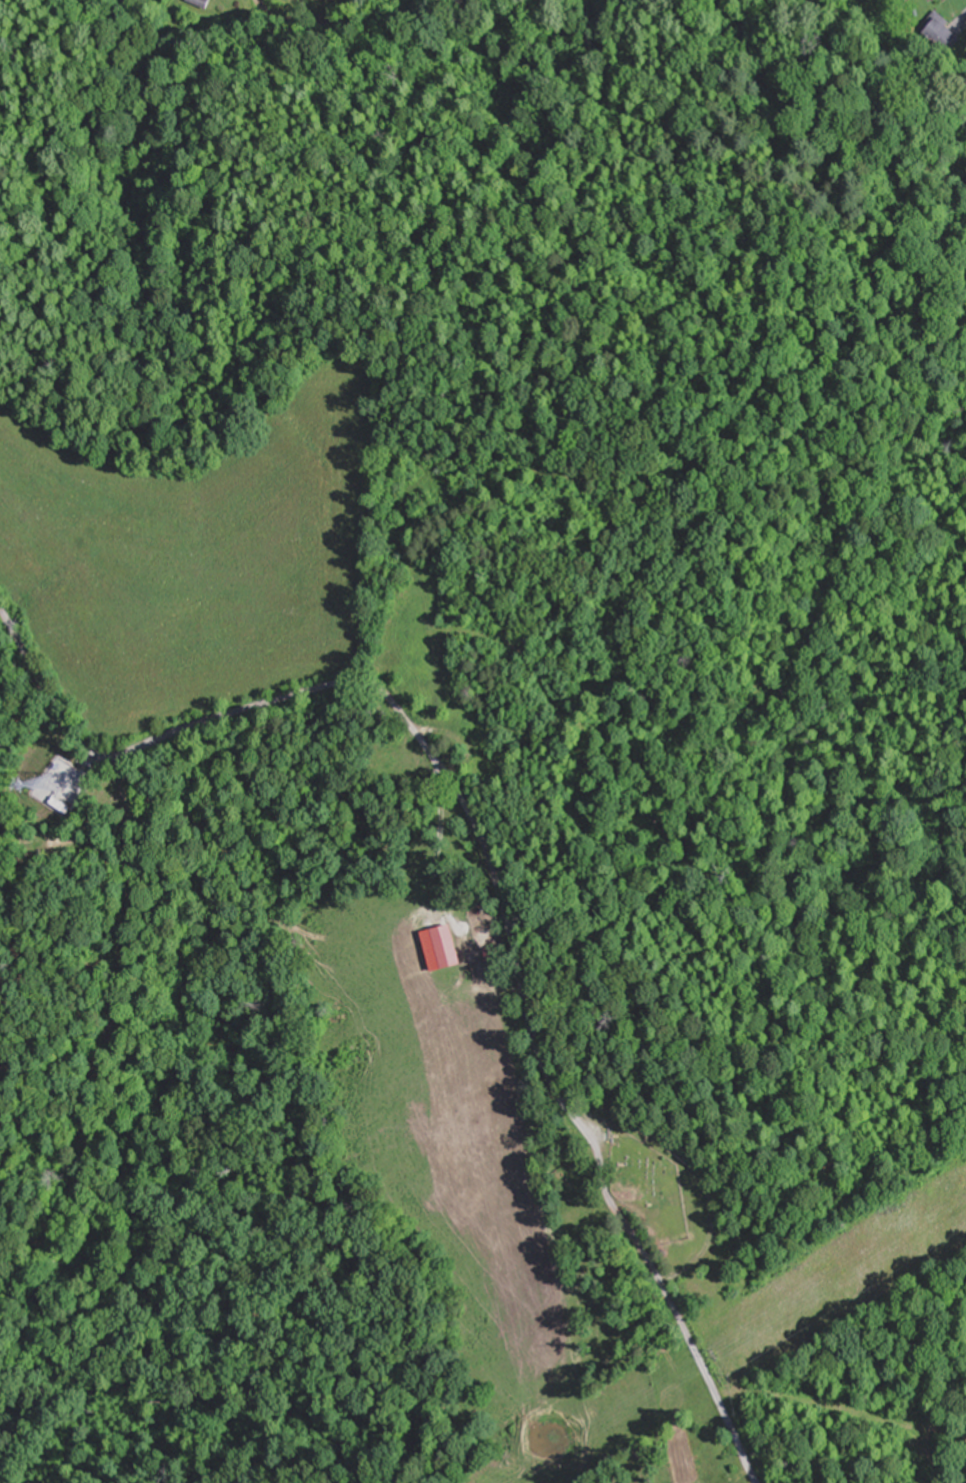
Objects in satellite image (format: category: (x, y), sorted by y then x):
building: (203, 3)
building: (941, 35)
road: (491, 863)
building: (451, 948)
building: (499, 964)
road: (105, 1038)

